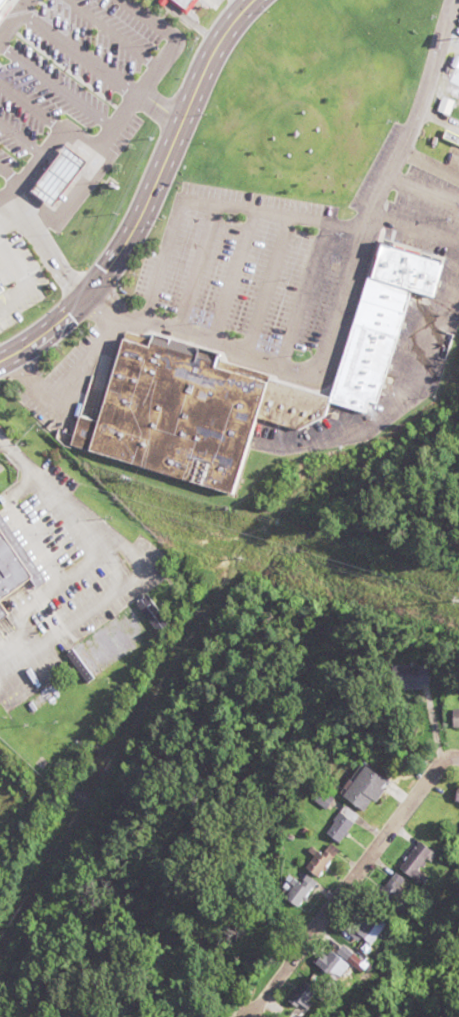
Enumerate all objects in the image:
building: (157, 1)
building: (181, 4)
building: (4, 6)
road: (15, 20)
road: (100, 68)
road: (435, 117)
road: (426, 162)
road: (420, 190)
road: (147, 196)
road: (273, 209)
road: (411, 230)
road: (45, 246)
road: (162, 258)
road: (195, 266)
road: (231, 274)
road: (267, 282)
road: (304, 290)
road: (337, 300)
road: (89, 356)
building: (241, 385)
road: (383, 407)
building: (12, 564)
power tower: (456, 600)
building: (0, 615)
building: (406, 677)
building: (454, 719)
building: (363, 788)
building: (456, 795)
building: (338, 827)
building: (321, 861)
building: (418, 863)
building: (395, 886)
building: (298, 889)
road: (349, 896)
building: (363, 927)
building: (332, 965)
building: (298, 998)

